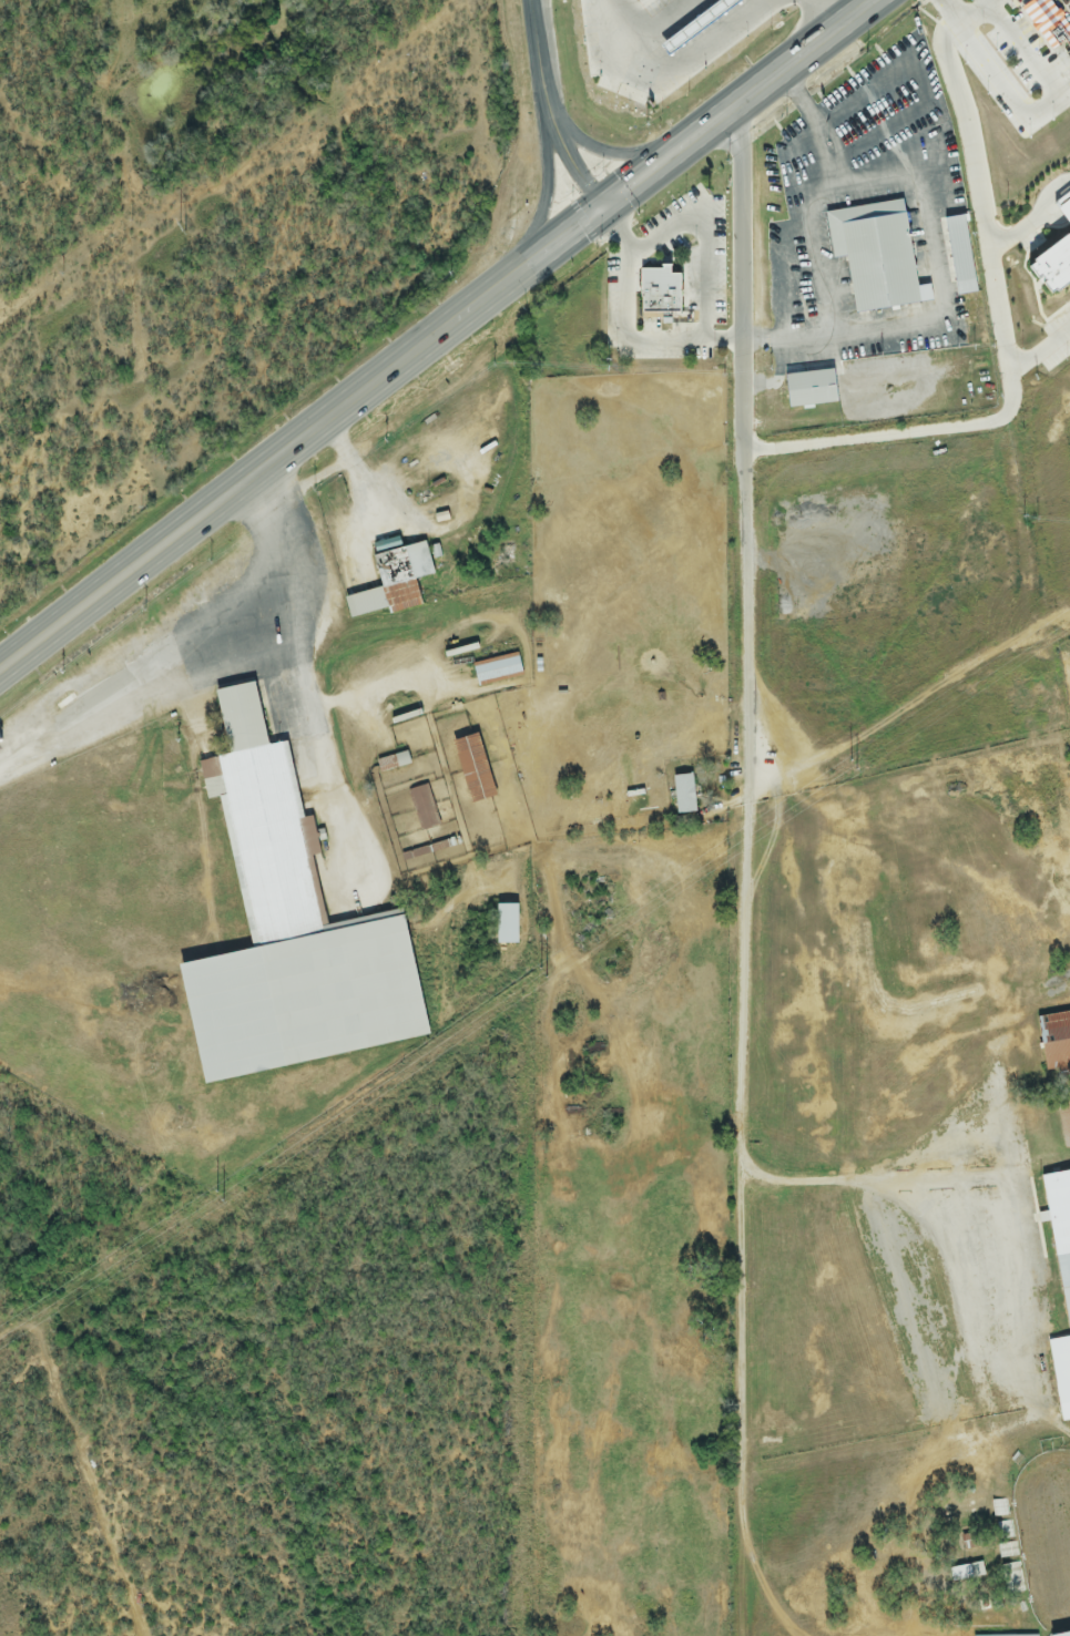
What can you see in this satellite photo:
road: (1066, 3)
road: (978, 12)
road: (828, 14)
building: (1047, 24)
road: (685, 68)
road: (1001, 79)
road: (550, 110)
road: (611, 153)
road: (548, 204)
building: (1066, 207)
road: (702, 223)
road: (1040, 224)
power tower: (181, 227)
road: (808, 236)
road: (930, 254)
building: (876, 255)
building: (1057, 268)
building: (661, 290)
building: (967, 290)
road: (439, 335)
road: (1008, 348)
road: (1041, 355)
building: (813, 389)
road: (357, 473)
building: (335, 518)
building: (395, 582)
road: (180, 642)
road: (217, 668)
building: (498, 669)
road: (312, 722)
power tower: (859, 761)
building: (475, 769)
building: (685, 795)
road: (762, 828)
building: (508, 924)
building: (289, 929)
power tower: (533, 979)
building: (1056, 1040)
building: (1064, 1121)
power tower: (211, 1196)
building: (1060, 1282)

